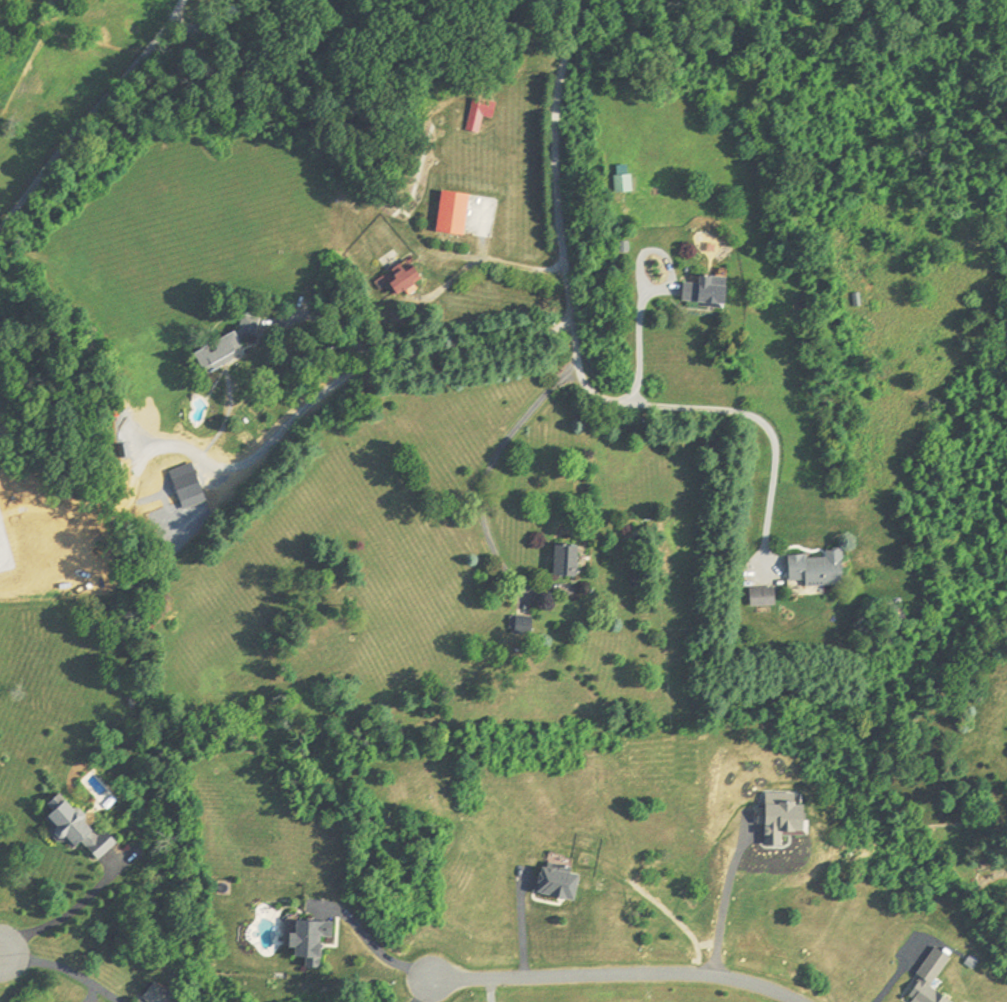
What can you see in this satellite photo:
road: (90, 115)
building: (479, 115)
building: (622, 184)
building: (451, 214)
road: (508, 265)
building: (396, 280)
building: (703, 292)
road: (569, 316)
building: (248, 326)
road: (638, 354)
building: (216, 356)
road: (417, 357)
road: (720, 409)
building: (564, 562)
building: (817, 571)
building: (761, 598)
building: (521, 625)
building: (75, 828)
building: (556, 882)
road: (721, 907)
road: (61, 918)
road: (522, 927)
building: (309, 940)
road: (379, 948)
road: (65, 968)
road: (898, 973)
road: (613, 979)
road: (423, 991)

